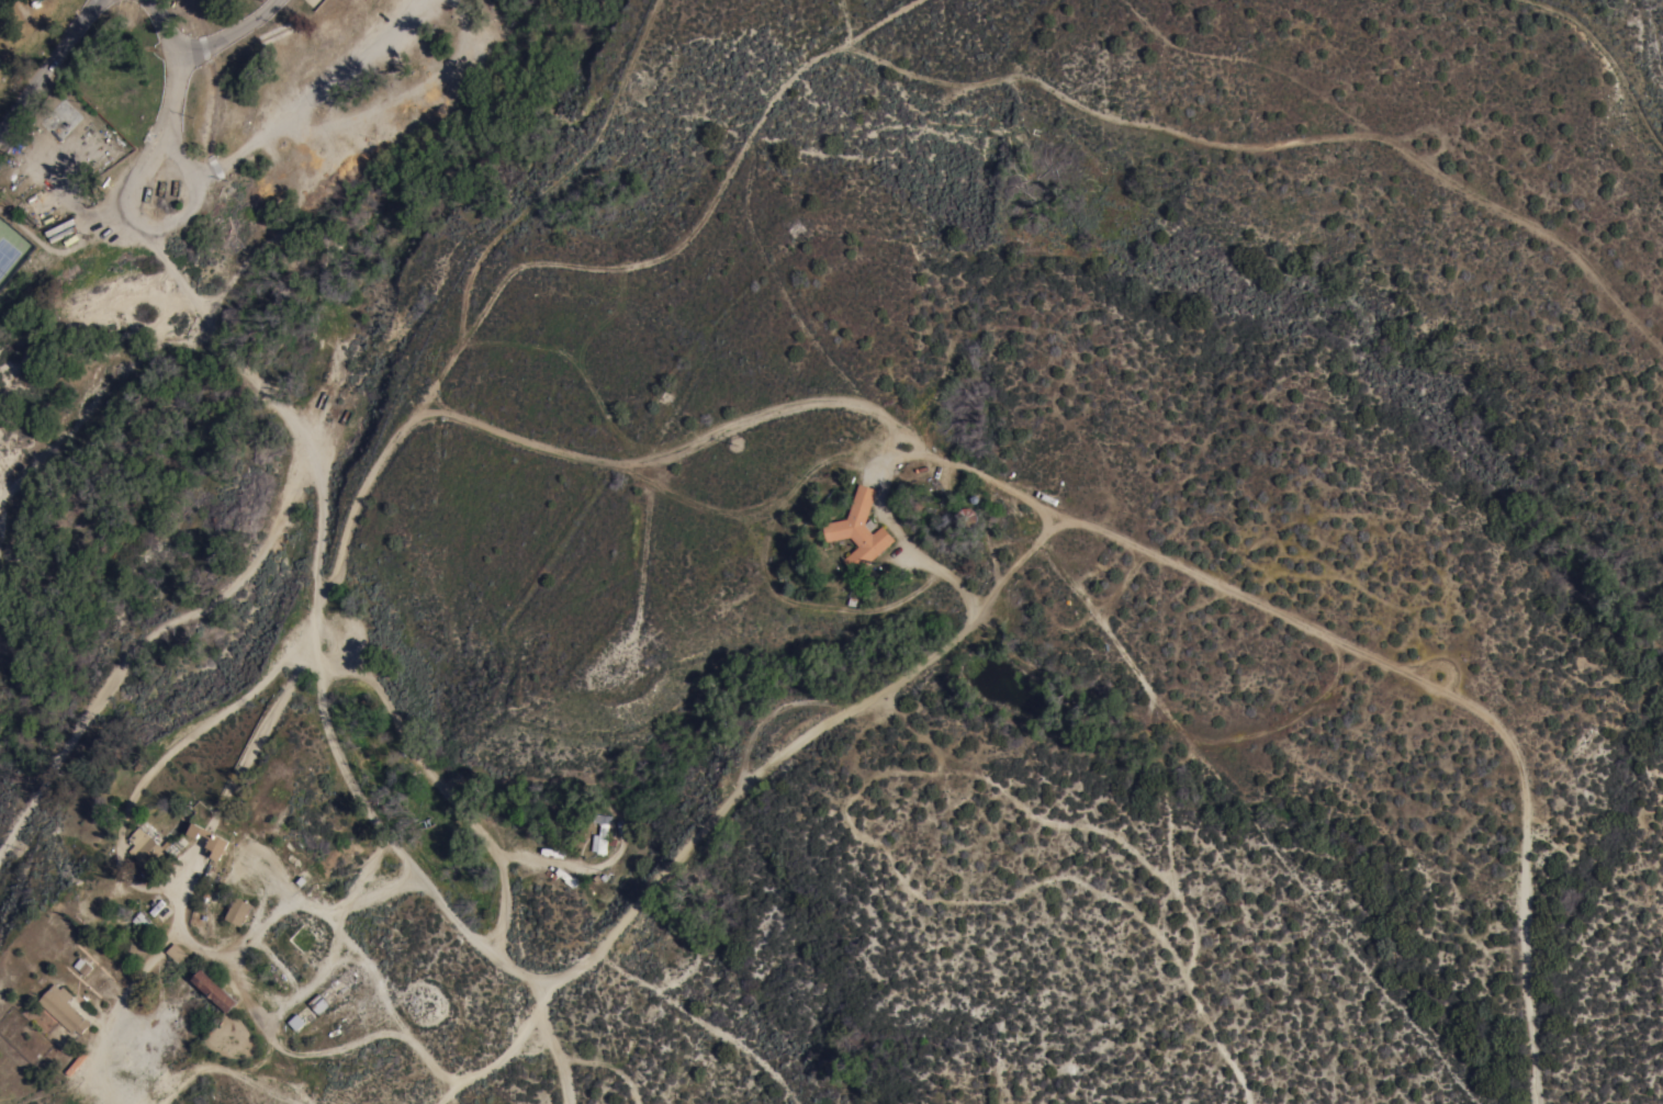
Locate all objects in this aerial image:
road: (205, 46)
road: (53, 66)
building: (60, 120)
park: (7, 255)
road: (291, 419)
road: (591, 463)
building: (967, 518)
building: (858, 531)
road: (147, 651)
building: (600, 833)
building: (209, 841)
building: (145, 848)
road: (419, 886)
building: (237, 912)
building: (144, 924)
building: (176, 954)
building: (214, 991)
building: (317, 1004)
road: (675, 1007)
building: (63, 1010)
road: (222, 1067)
road: (116, 1089)

